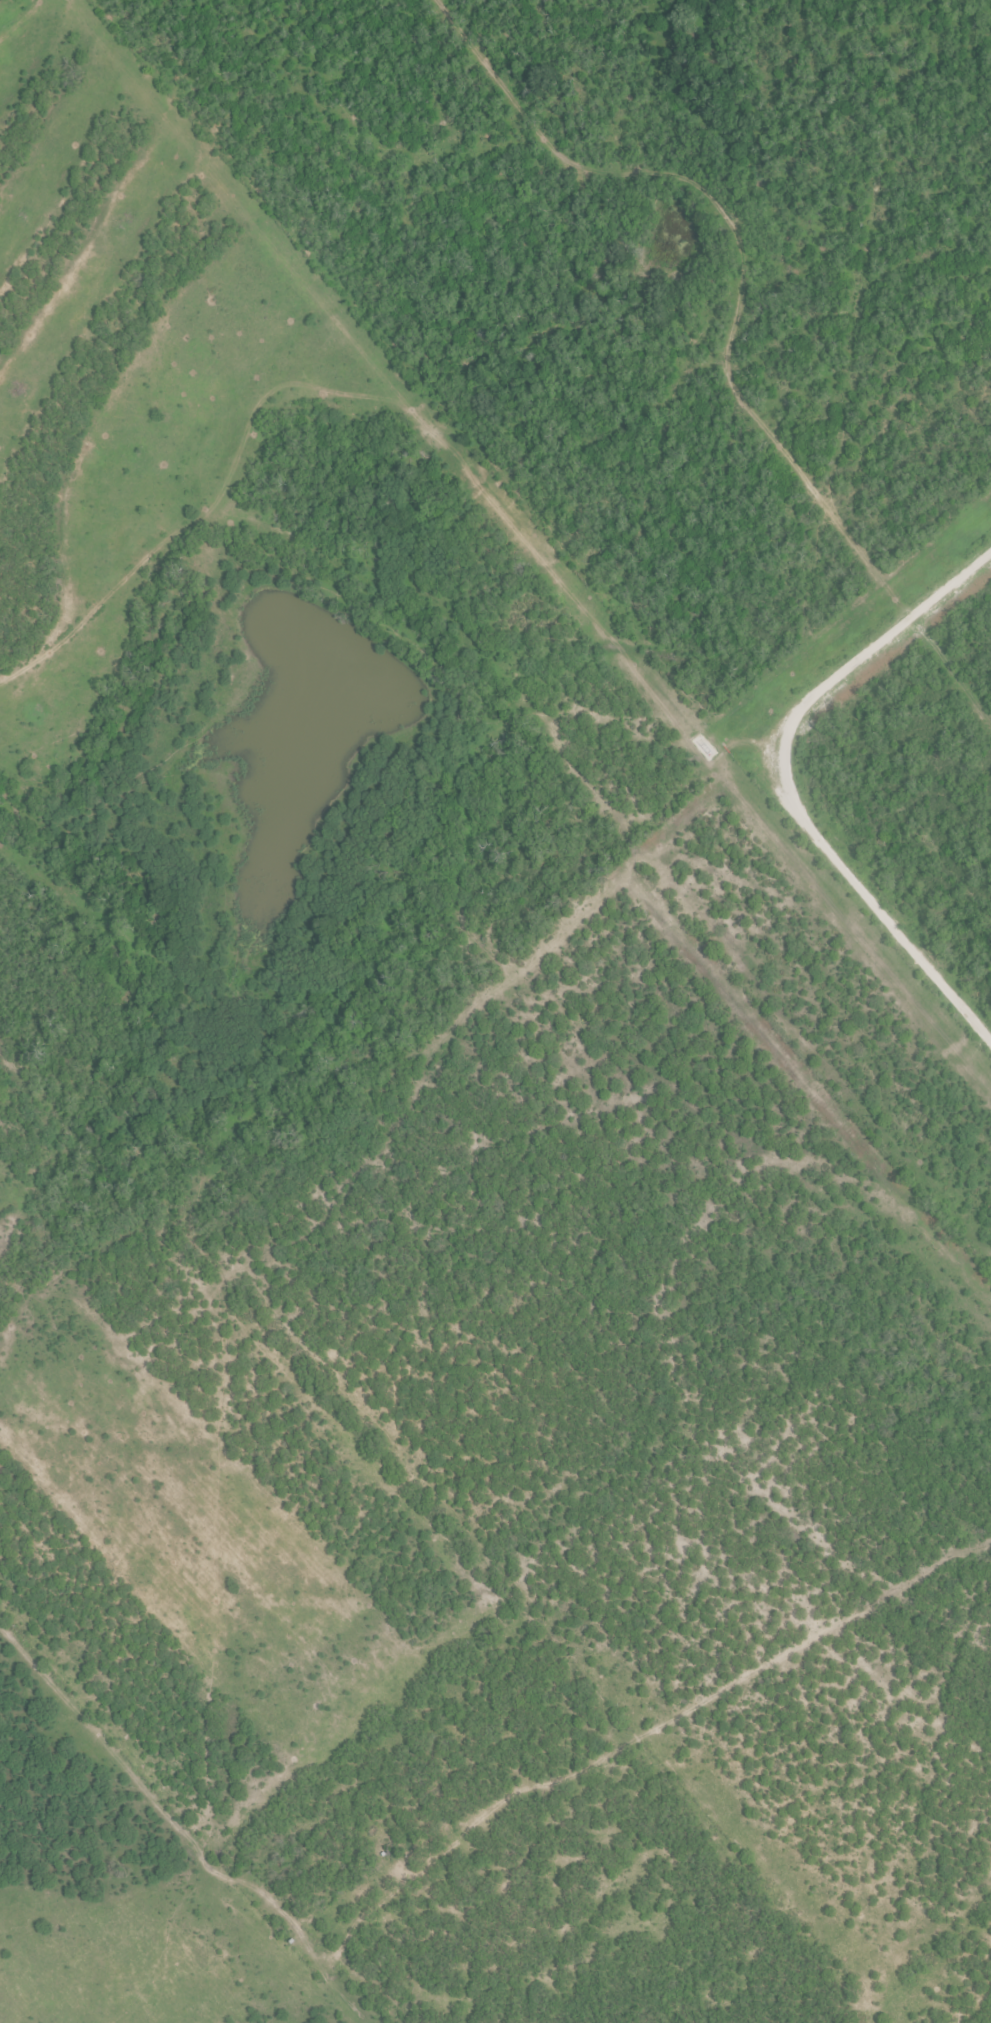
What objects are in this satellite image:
road: (779, 787)

